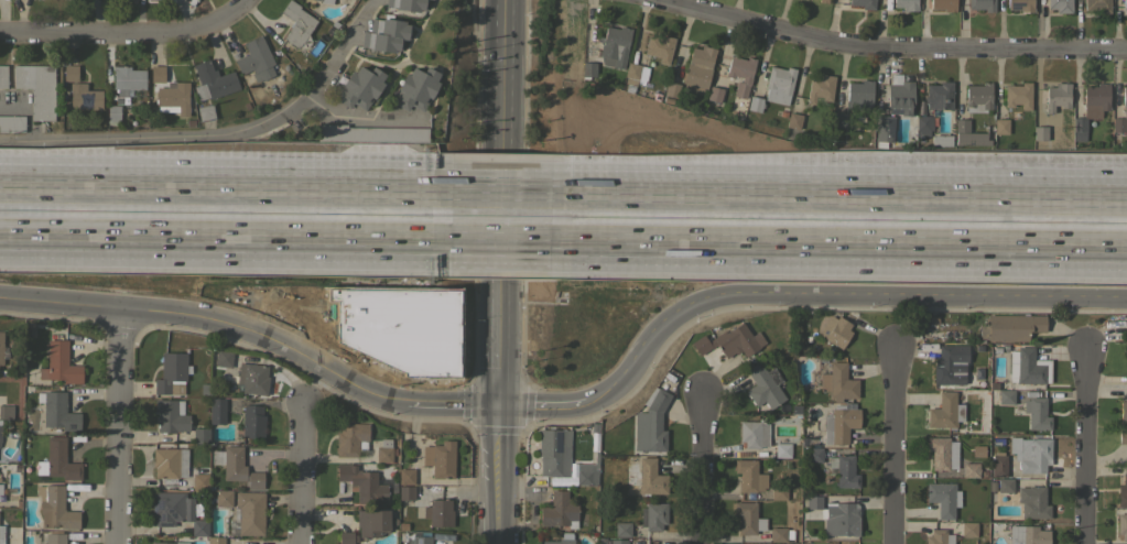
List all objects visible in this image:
road: (249, 0)
building: (326, 1)
building: (823, 1)
building: (863, 3)
building: (408, 4)
building: (906, 4)
building: (943, 4)
building: (982, 4)
building: (1020, 4)
building: (1125, 4)
building: (1060, 6)
building: (1097, 6)
building: (296, 23)
road: (503, 28)
road: (129, 34)
building: (386, 34)
building: (614, 46)
building: (659, 47)
road: (889, 48)
building: (256, 59)
building: (588, 69)
building: (697, 69)
building: (636, 72)
building: (71, 73)
building: (156, 74)
building: (740, 74)
building: (3, 76)
building: (127, 79)
building: (213, 80)
building: (779, 84)
building: (360, 87)
building: (37, 88)
building: (415, 88)
building: (820, 88)
building: (671, 89)
building: (859, 91)
building: (714, 94)
building: (1018, 95)
building: (899, 96)
building: (939, 96)
building: (84, 97)
building: (978, 97)
building: (1055, 97)
building: (173, 98)
building: (755, 104)
building: (1091, 108)
building: (1125, 111)
building: (205, 112)
building: (113, 113)
building: (838, 119)
building: (793, 121)
building: (12, 123)
building: (1000, 123)
building: (923, 124)
building: (884, 128)
rooftop solar panel: (889, 128)
building: (370, 133)
road: (502, 134)
building: (968, 134)
building: (1040, 134)
road: (217, 138)
building: (941, 140)
road: (226, 185)
road: (501, 188)
road: (839, 194)
railway: (563, 218)
road: (226, 236)
road: (501, 238)
road: (838, 242)
road: (834, 297)
road: (292, 302)
road: (499, 312)
road: (205, 320)
building: (1126, 326)
building: (1010, 327)
building: (835, 331)
building: (730, 341)
building: (2, 349)
building: (1126, 350)
building: (223, 357)
building: (59, 363)
building: (950, 363)
building: (1028, 367)
building: (171, 373)
building: (252, 378)
building: (836, 382)
building: (763, 385)
building: (1005, 396)
road: (444, 406)
road: (541, 410)
building: (1123, 410)
building: (57, 411)
building: (216, 411)
building: (944, 411)
building: (6, 412)
building: (1036, 413)
building: (171, 415)
building: (252, 422)
building: (651, 424)
building: (839, 424)
road: (120, 426)
building: (0, 431)
building: (754, 433)
building: (201, 435)
building: (1121, 435)
building: (351, 438)
rooftop solar panel: (557, 442)
road: (892, 445)
road: (1085, 446)
building: (782, 447)
building: (384, 450)
building: (977, 450)
building: (554, 451)
building: (941, 453)
building: (1031, 453)
building: (814, 455)
building: (437, 459)
building: (61, 460)
building: (169, 465)
building: (998, 465)
building: (236, 466)
road: (700, 468)
building: (971, 469)
building: (844, 470)
building: (587, 471)
road: (300, 476)
building: (749, 476)
building: (407, 477)
road: (497, 477)
building: (650, 477)
building: (199, 482)
building: (362, 483)
building: (0, 489)
building: (407, 492)
building: (778, 492)
building: (1123, 492)
building: (223, 498)
building: (943, 498)
building: (1026, 499)
building: (55, 508)
building: (175, 511)
building: (559, 511)
building: (438, 512)
building: (248, 514)
building: (653, 515)
building: (835, 516)
building: (748, 518)
building: (372, 522)
building: (1121, 526)
building: (622, 529)
building: (968, 529)
building: (1, 534)
building: (778, 534)
building: (1028, 534)
building: (939, 536)
building: (55, 537)
building: (346, 537)
building: (420, 537)
building: (215, 540)
building: (557, 541)
building: (618, 542)
building: (170, 543)

